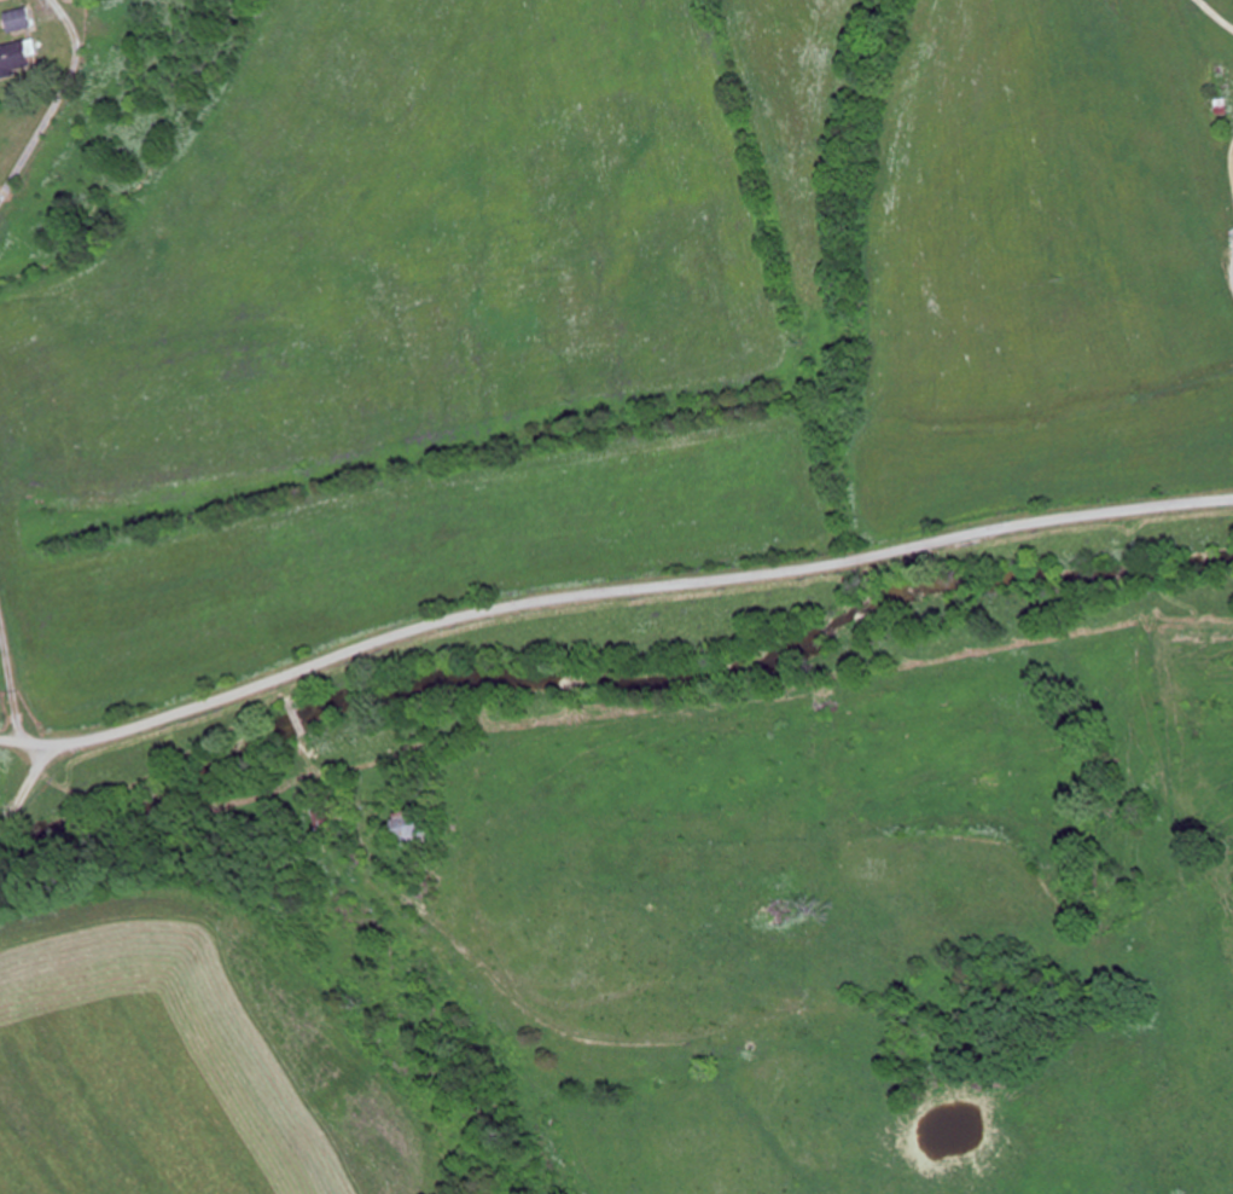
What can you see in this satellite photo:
road: (1232, 1)
building: (18, 21)
building: (14, 59)
road: (8, 360)
road: (609, 592)
building: (328, 819)
building: (414, 828)
road: (69, 839)

